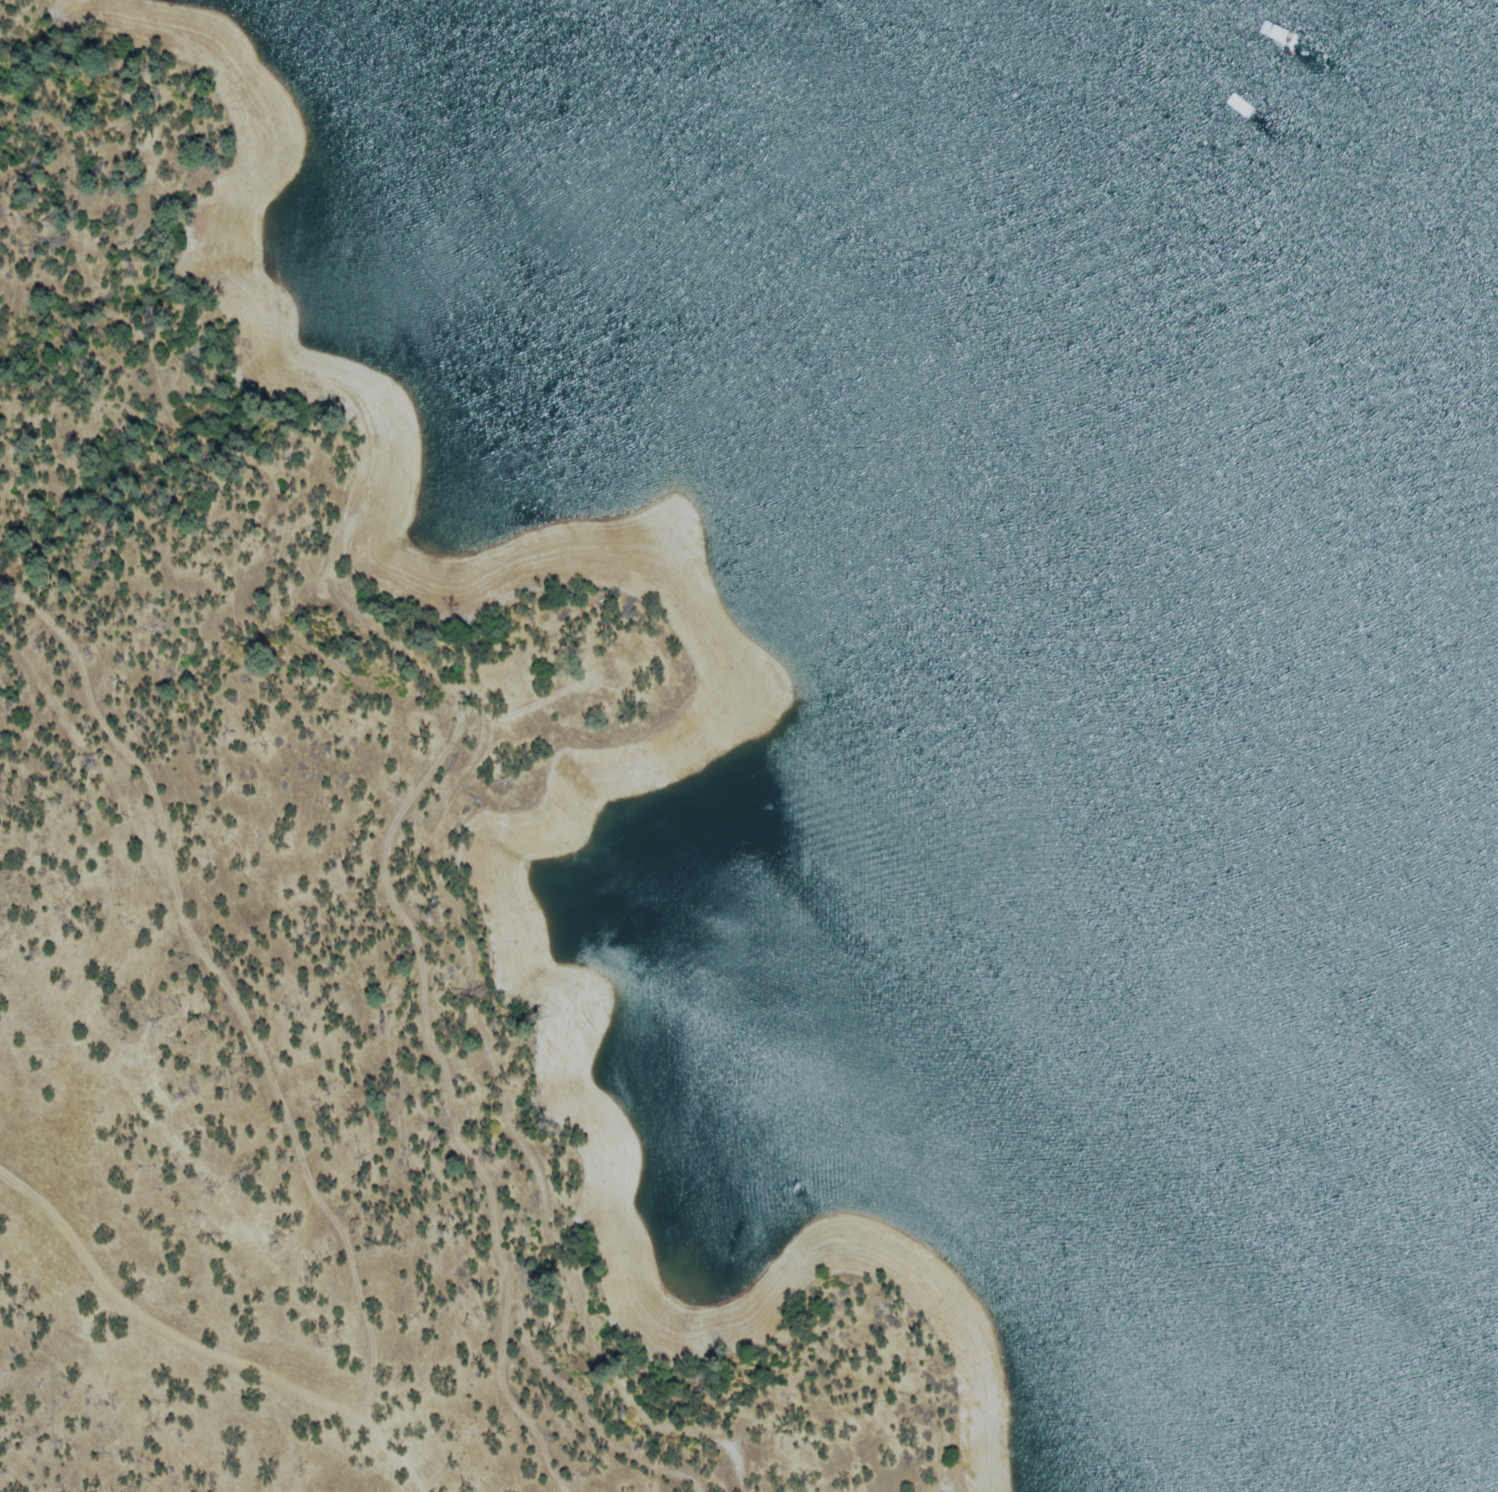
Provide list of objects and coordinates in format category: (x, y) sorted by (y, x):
building: (833, 29)
building: (1166, 126)
building: (890, 152)
road: (418, 955)
road: (156, 1324)
road: (565, 1386)

